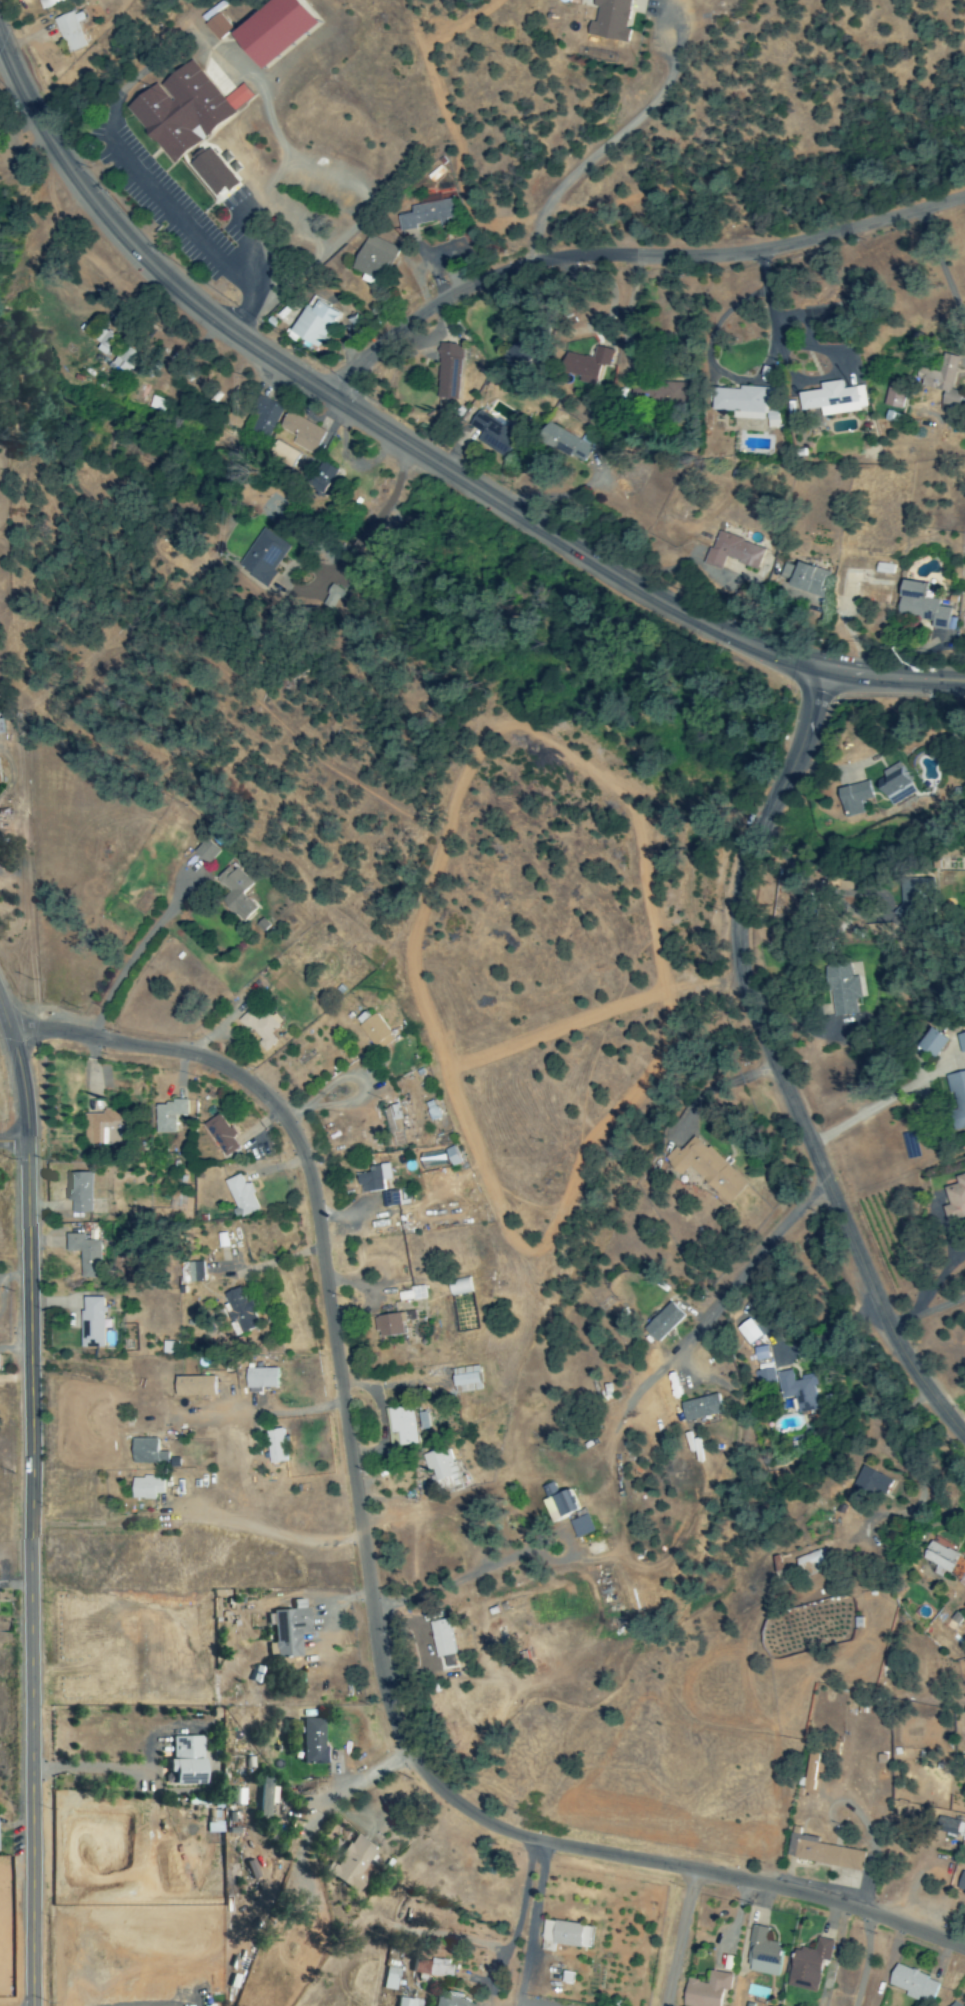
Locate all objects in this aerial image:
building: (52, 4)
building: (609, 20)
building: (222, 28)
building: (285, 30)
building: (73, 34)
building: (189, 111)
road: (601, 149)
building: (210, 173)
building: (426, 215)
road: (635, 256)
building: (372, 260)
road: (332, 269)
building: (313, 323)
building: (103, 343)
building: (123, 360)
building: (586, 365)
building: (447, 371)
building: (943, 382)
building: (894, 395)
building: (834, 400)
building: (744, 404)
building: (263, 418)
building: (301, 433)
building: (493, 435)
road: (411, 438)
building: (564, 443)
building: (299, 464)
road: (373, 522)
building: (732, 552)
building: (261, 560)
building: (802, 582)
building: (331, 597)
building: (919, 605)
building: (893, 785)
building: (853, 798)
building: (205, 852)
building: (880, 930)
road: (131, 954)
building: (841, 990)
building: (263, 1030)
building: (375, 1032)
building: (961, 1042)
building: (931, 1043)
road: (216, 1066)
road: (774, 1066)
building: (957, 1100)
road: (870, 1107)
building: (167, 1116)
building: (392, 1121)
building: (103, 1128)
building: (219, 1135)
road: (13, 1142)
building: (705, 1169)
building: (370, 1181)
building: (78, 1193)
building: (240, 1196)
building: (390, 1199)
building: (84, 1255)
road: (749, 1266)
building: (191, 1273)
building: (458, 1287)
building: (411, 1295)
building: (239, 1312)
road: (927, 1312)
building: (662, 1322)
building: (90, 1323)
building: (388, 1326)
building: (759, 1354)
building: (765, 1377)
building: (259, 1379)
building: (465, 1380)
building: (193, 1387)
building: (797, 1391)
building: (700, 1408)
building: (422, 1422)
building: (401, 1425)
building: (275, 1447)
building: (145, 1452)
building: (440, 1467)
building: (871, 1483)
building: (145, 1488)
road: (27, 1505)
building: (561, 1506)
building: (581, 1527)
building: (592, 1549)
building: (945, 1563)
building: (809, 1564)
road: (453, 1582)
building: (964, 1608)
building: (287, 1631)
building: (441, 1639)
building: (311, 1744)
road: (90, 1769)
building: (812, 1772)
road: (368, 1774)
road: (433, 1780)
building: (264, 1797)
building: (947, 1827)
building: (820, 1853)
building: (350, 1865)
building: (960, 1883)
road: (531, 1922)
building: (564, 1936)
road: (680, 1938)
building: (762, 1954)
road: (866, 1959)
building: (807, 1966)
building: (431, 1968)
building: (389, 1979)
building: (913, 1985)
building: (706, 1990)
building: (448, 2000)
building: (405, 2002)
building: (953, 2005)

